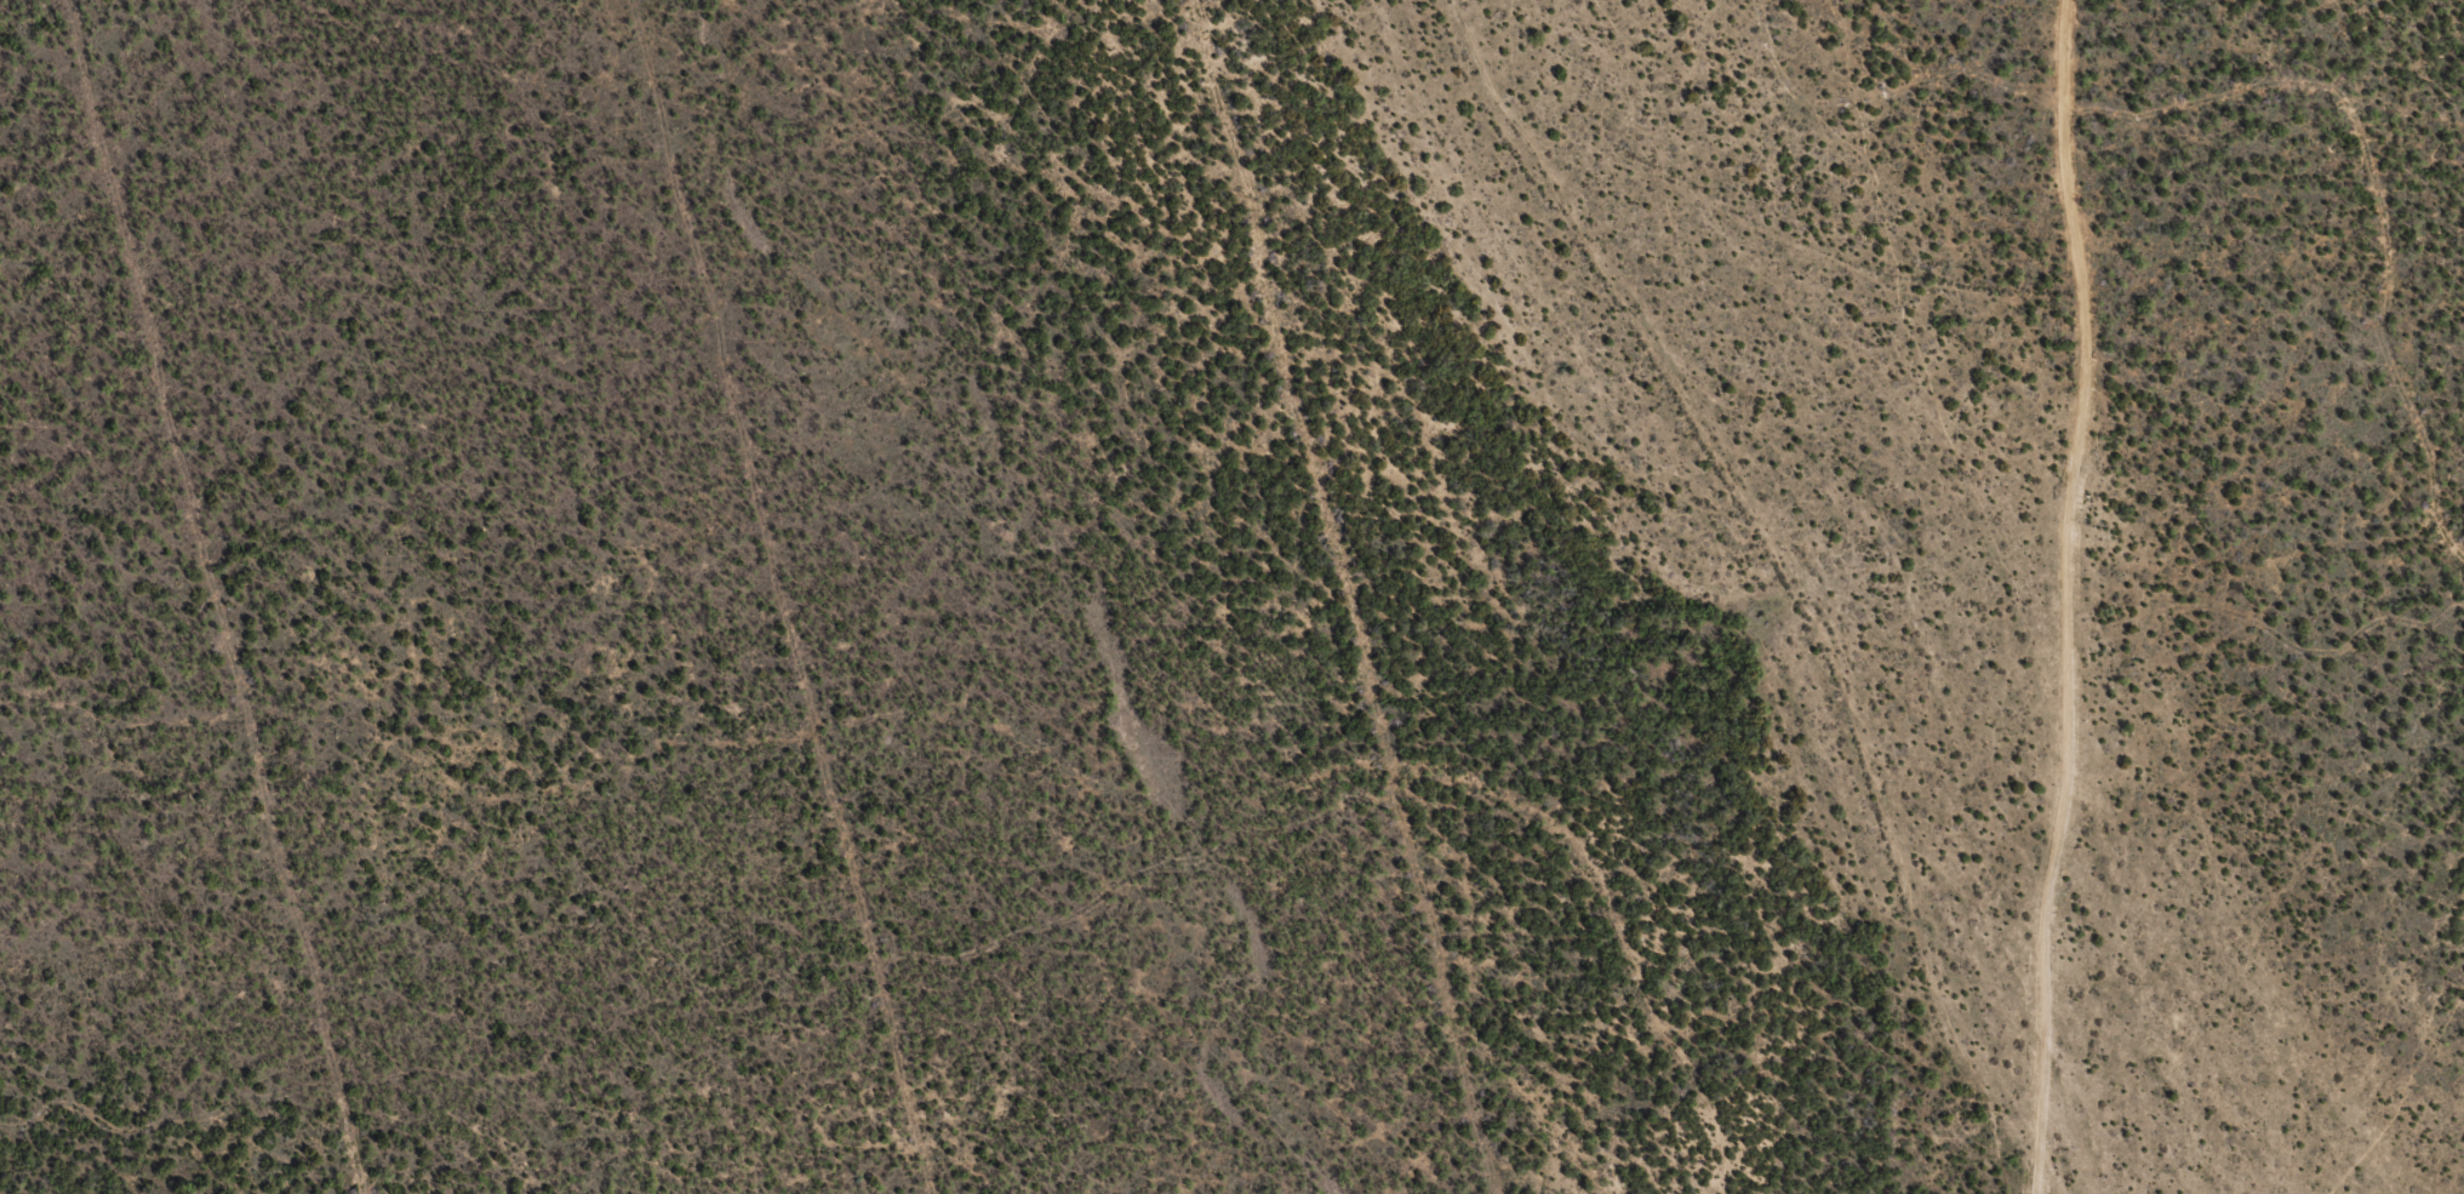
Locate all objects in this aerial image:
road: (2075, 596)

